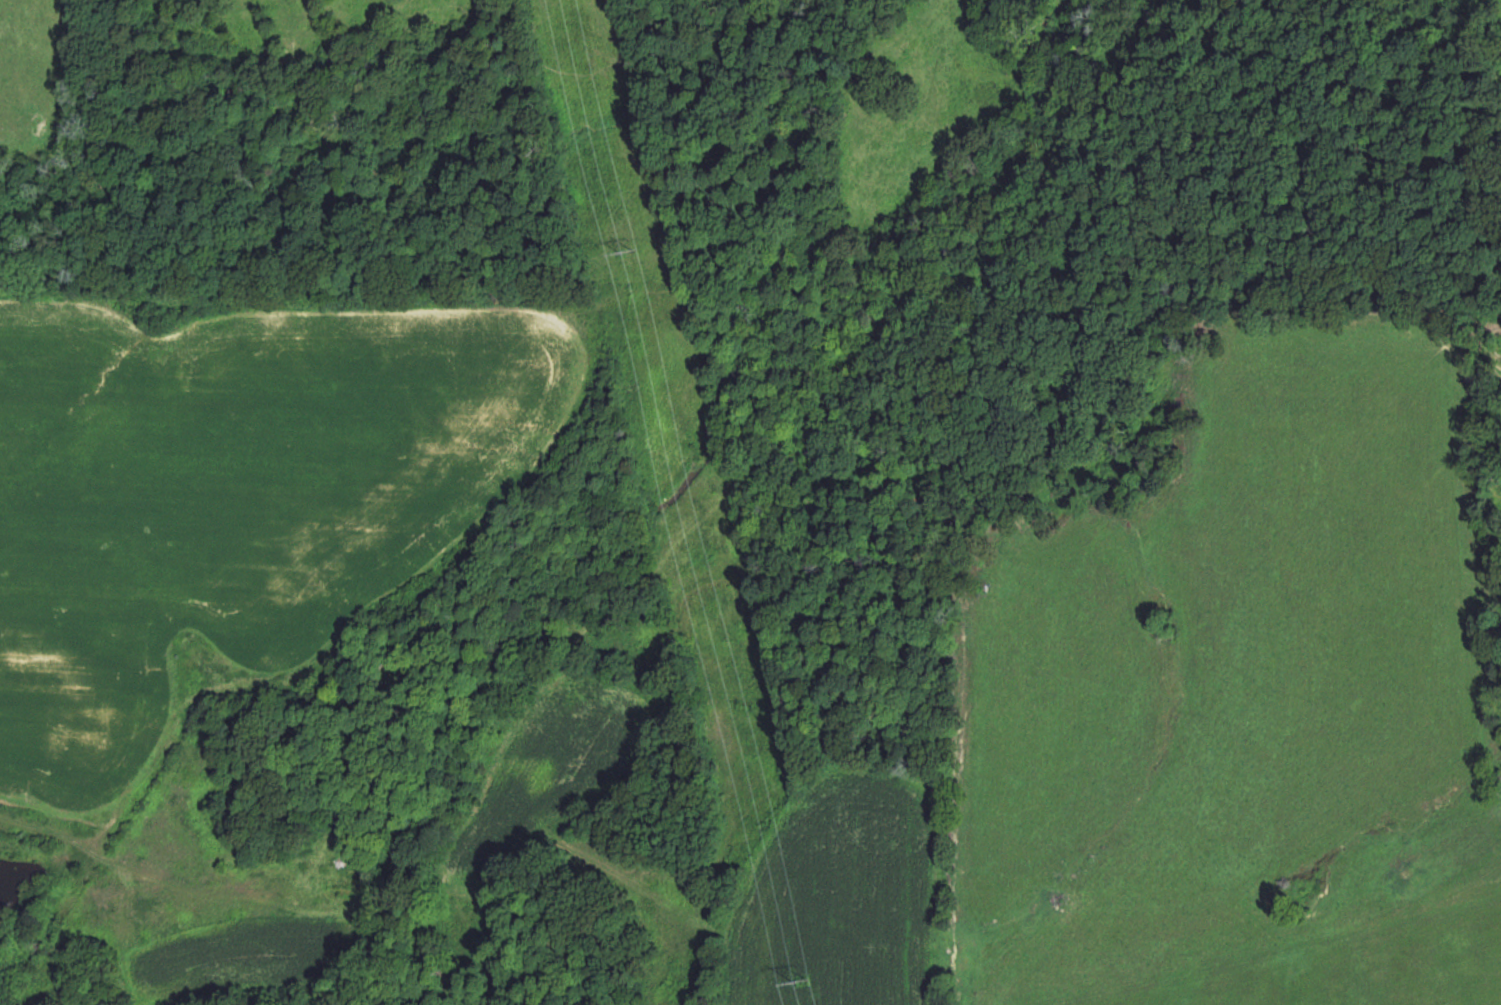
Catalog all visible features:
power tower: (627, 250)
power tower: (803, 981)

